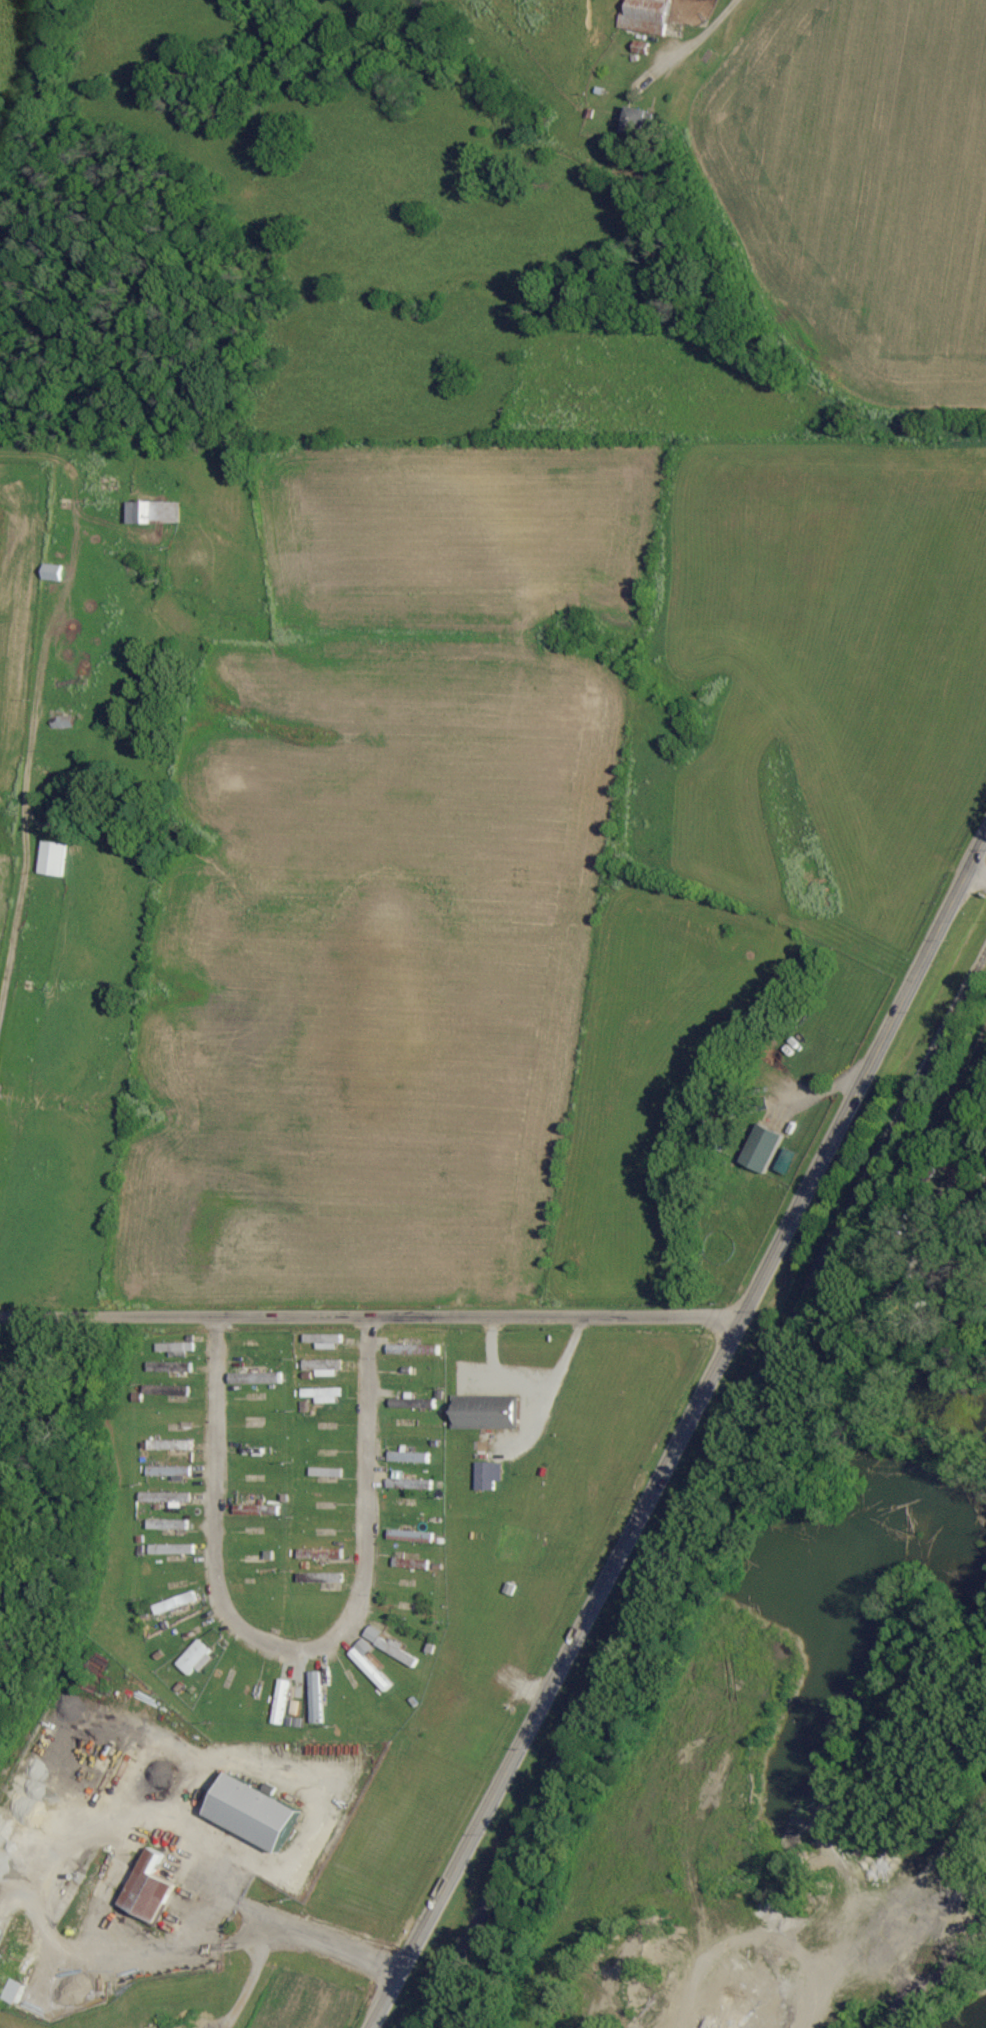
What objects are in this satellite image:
building: (644, 16)
road: (700, 37)
building: (634, 121)
building: (154, 513)
building: (51, 573)
road: (26, 741)
building: (52, 858)
road: (975, 876)
building: (760, 1148)
road: (928, 1220)
road: (370, 1321)
building: (322, 1341)
building: (174, 1349)
building: (168, 1367)
building: (322, 1367)
road: (528, 1377)
building: (321, 1395)
building: (407, 1403)
building: (481, 1415)
road: (679, 1431)
building: (168, 1445)
building: (407, 1457)
building: (169, 1472)
building: (324, 1472)
building: (487, 1475)
building: (399, 1481)
railway: (700, 1485)
building: (165, 1498)
building: (256, 1510)
building: (166, 1525)
building: (417, 1537)
building: (170, 1549)
building: (319, 1554)
building: (319, 1578)
building: (173, 1603)
building: (385, 1644)
road: (288, 1646)
building: (193, 1659)
building: (367, 1665)
building: (315, 1697)
building: (279, 1702)
building: (250, 1812)
building: (145, 1889)
road: (202, 1918)
building: (10, 1992)

